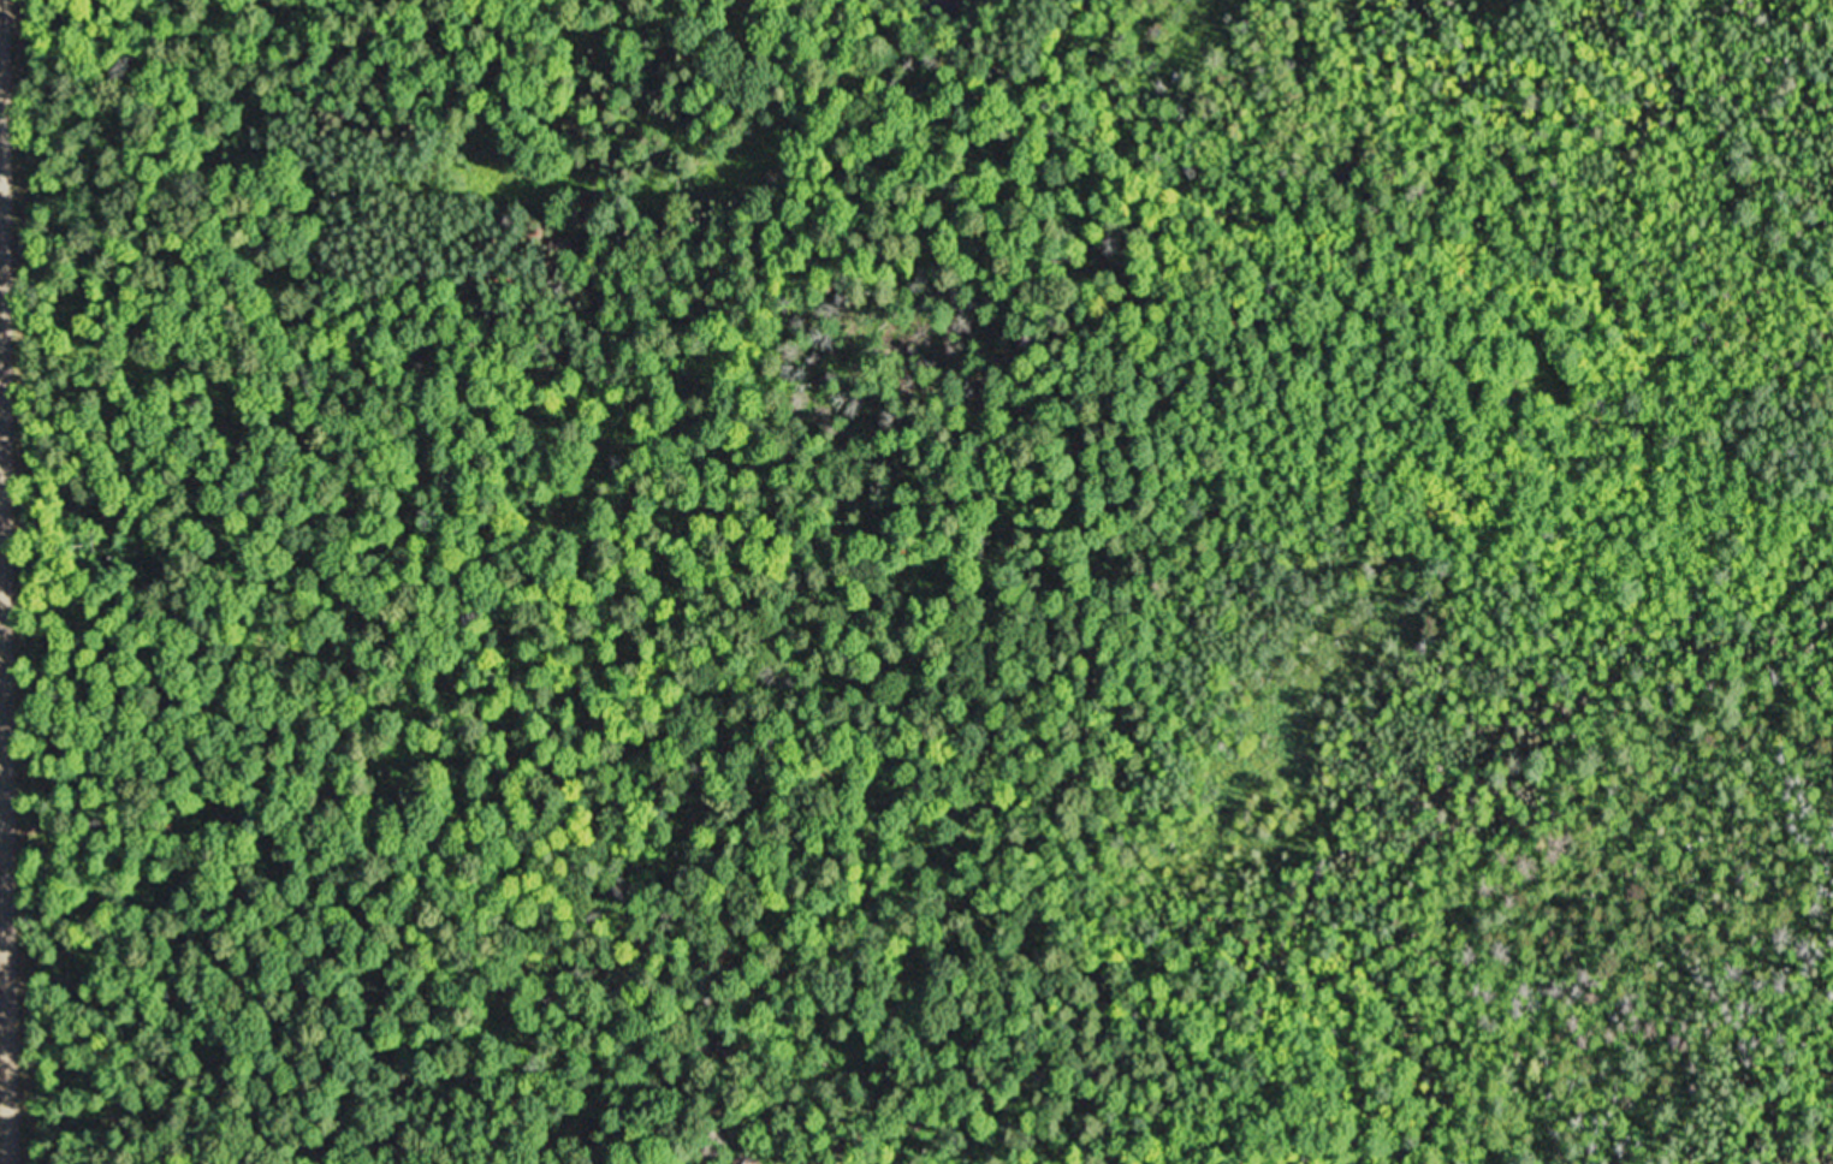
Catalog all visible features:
road: (0, 1014)

